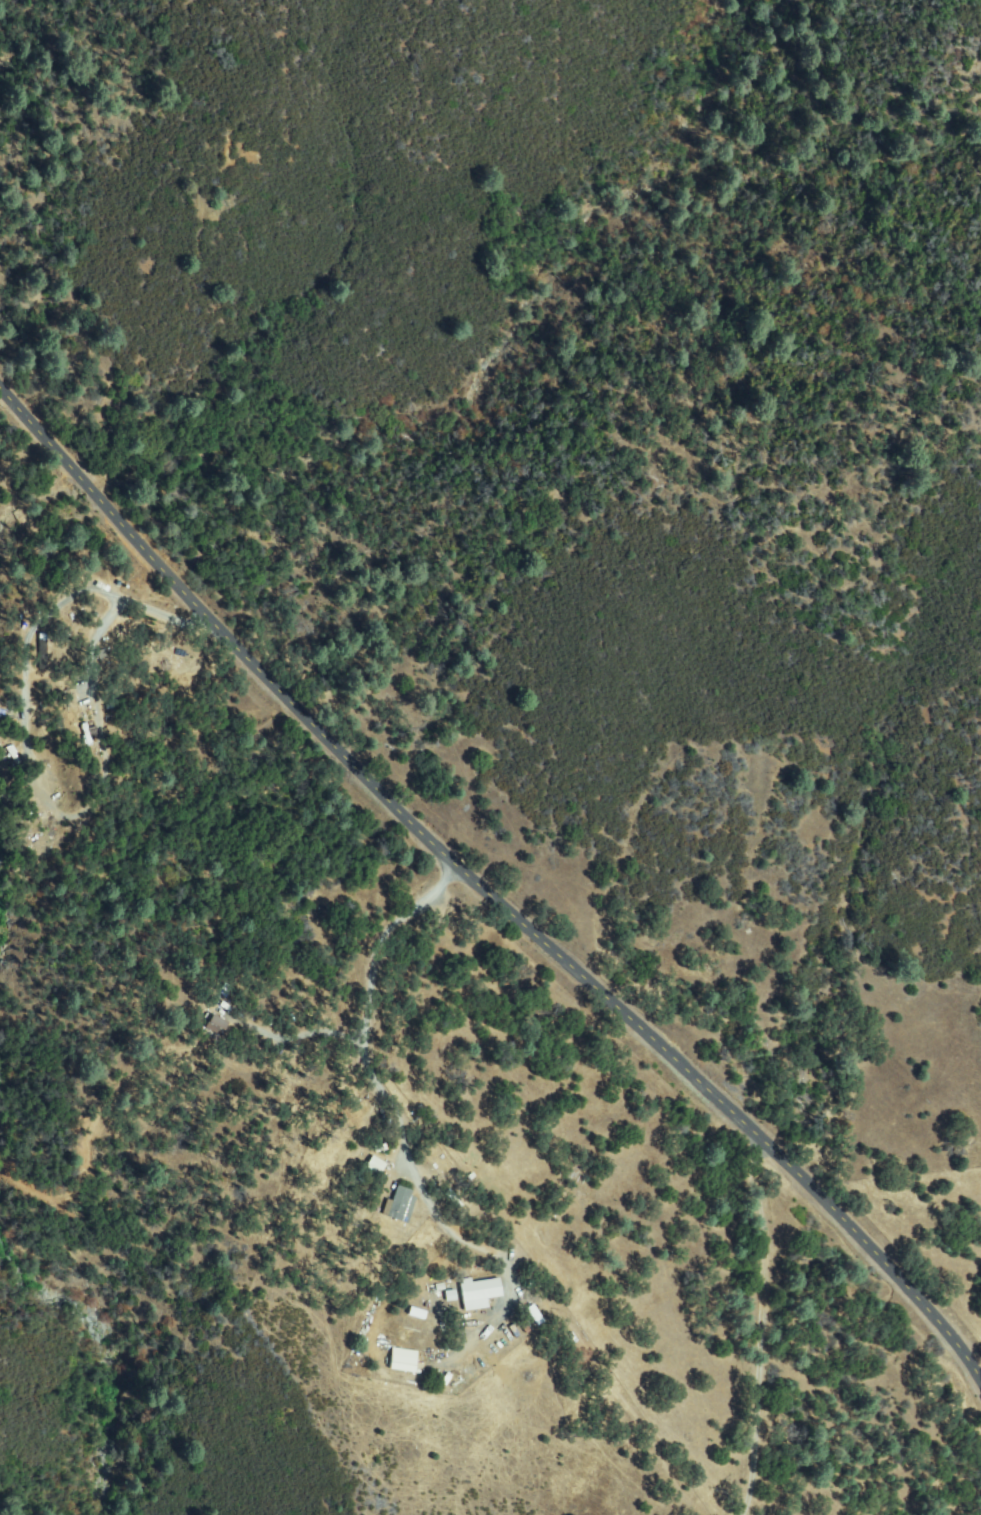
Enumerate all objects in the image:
building: (7, 754)
building: (37, 804)
road: (485, 893)
building: (215, 1024)
building: (375, 1164)
building: (360, 1175)
building: (400, 1204)
building: (478, 1292)
building: (450, 1296)
building: (542, 1312)
building: (534, 1314)
building: (401, 1364)

